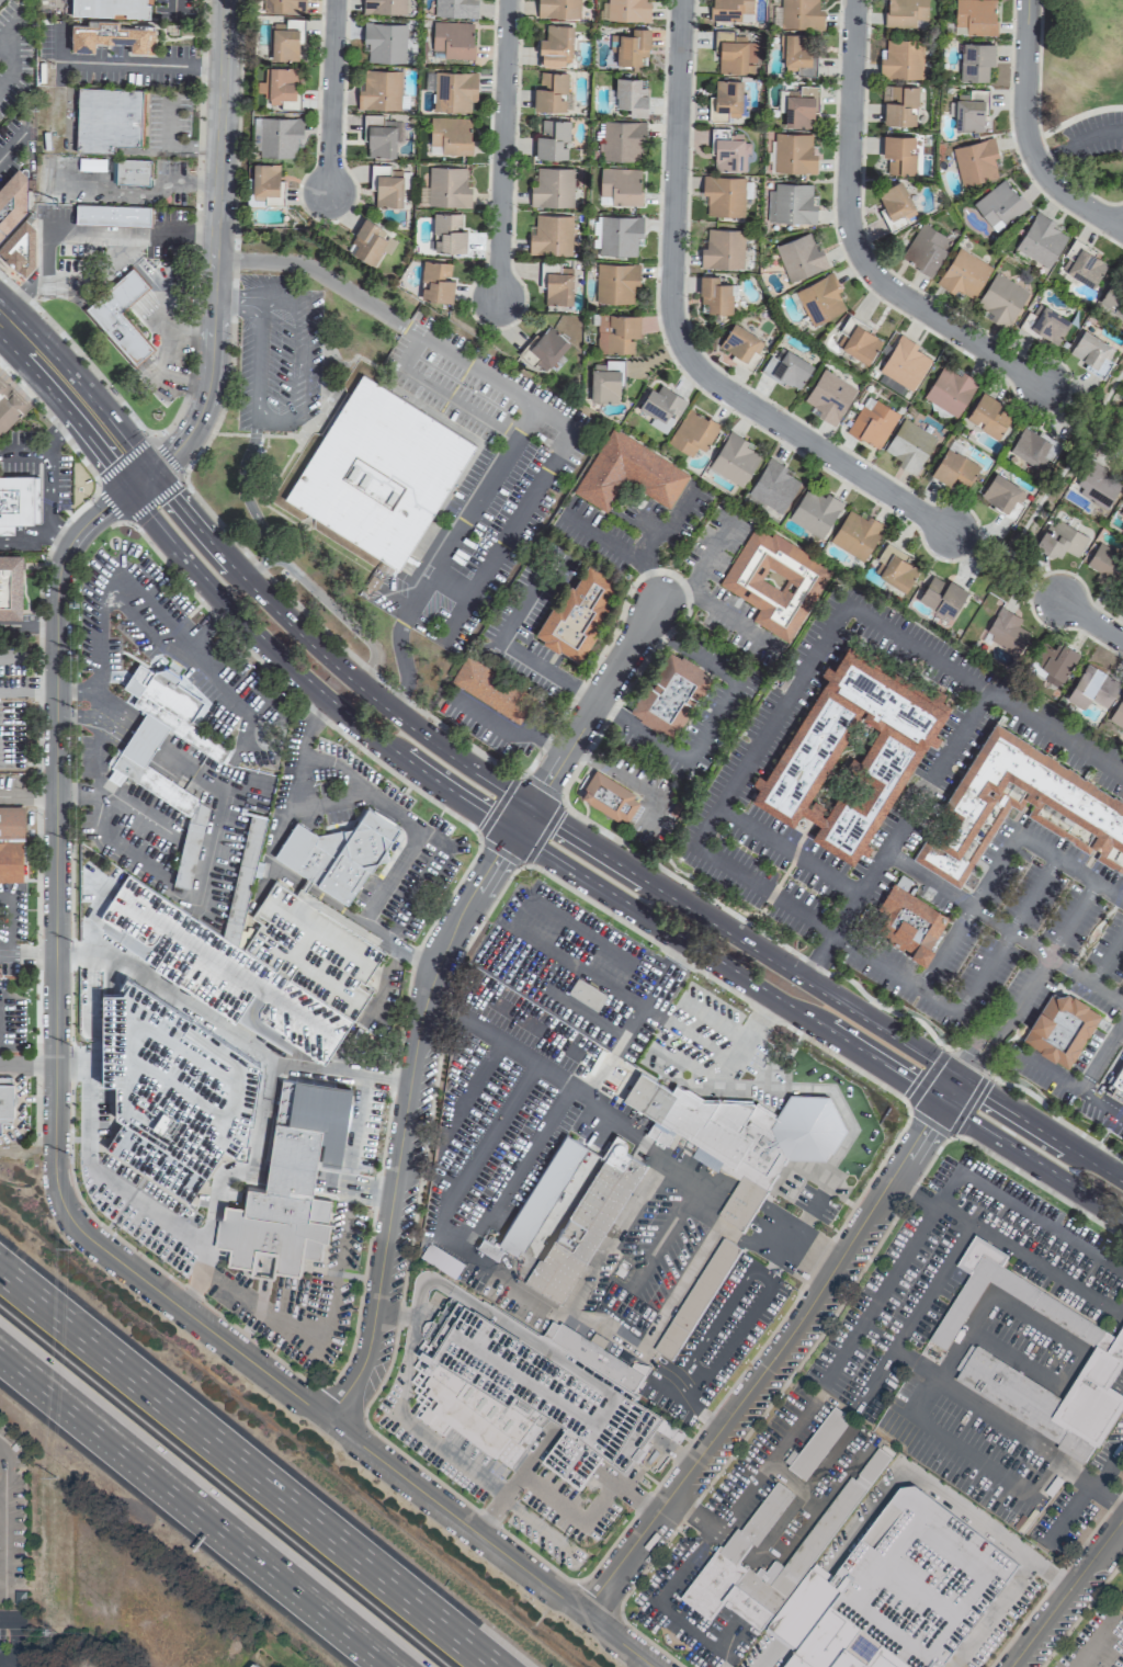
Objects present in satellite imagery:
building: (282, 5)
building: (384, 7)
building: (107, 8)
building: (454, 9)
building: (558, 9)
building: (729, 9)
building: (627, 10)
building: (801, 13)
building: (906, 13)
building: (975, 16)
building: (112, 35)
building: (453, 39)
building: (286, 41)
building: (385, 43)
building: (555, 45)
building: (631, 47)
building: (734, 54)
building: (797, 54)
park: (1079, 56)
building: (901, 59)
building: (975, 60)
road: (9, 61)
road: (112, 64)
road: (209, 67)
building: (279, 87)
building: (379, 89)
building: (454, 91)
building: (549, 91)
road: (328, 95)
building: (631, 95)
building: (726, 100)
building: (899, 104)
building: (799, 106)
building: (971, 111)
building: (110, 118)
road: (1026, 135)
building: (279, 136)
building: (378, 136)
building: (449, 136)
building: (552, 139)
building: (622, 139)
road: (1078, 140)
road: (10, 146)
road: (170, 146)
building: (727, 149)
road: (500, 150)
building: (793, 154)
building: (898, 154)
building: (975, 160)
building: (132, 172)
building: (264, 183)
building: (386, 185)
building: (552, 186)
building: (619, 186)
building: (445, 188)
building: (723, 195)
building: (14, 196)
building: (791, 203)
building: (895, 204)
building: (999, 204)
building: (113, 214)
road: (84, 231)
building: (447, 233)
building: (553, 235)
building: (620, 235)
road: (857, 238)
building: (1040, 240)
building: (367, 242)
building: (20, 246)
building: (722, 249)
building: (923, 249)
building: (799, 257)
road: (213, 260)
building: (1082, 264)
road: (316, 271)
building: (963, 274)
building: (435, 281)
building: (615, 282)
building: (556, 283)
building: (714, 295)
building: (819, 298)
building: (1000, 299)
road: (237, 302)
building: (120, 316)
building: (1044, 324)
building: (616, 332)
road: (681, 338)
building: (858, 340)
building: (741, 344)
building: (546, 347)
building: (1092, 352)
road: (410, 353)
road: (77, 355)
building: (904, 362)
building: (787, 368)
building: (606, 382)
road: (76, 383)
building: (949, 389)
building: (829, 396)
road: (1082, 406)
building: (10, 407)
building: (660, 407)
road: (67, 408)
road: (292, 415)
building: (987, 415)
road: (475, 419)
road: (54, 421)
building: (872, 422)
building: (692, 432)
building: (909, 445)
building: (1033, 446)
road: (23, 450)
road: (558, 453)
road: (166, 456)
building: (734, 458)
road: (125, 460)
road: (1062, 467)
building: (954, 468)
traffic signals: (147, 470)
building: (627, 472)
road: (47, 480)
building: (1096, 485)
building: (773, 486)
traffic signals: (126, 487)
park: (1047, 489)
building: (1002, 495)
road: (152, 499)
building: (16, 501)
road: (109, 504)
road: (249, 504)
building: (814, 511)
building: (1121, 514)
road: (649, 526)
building: (855, 533)
road: (23, 537)
building: (1060, 540)
road: (643, 551)
road: (445, 554)
building: (1104, 563)
building: (894, 567)
road: (1007, 570)
road: (649, 576)
building: (774, 581)
building: (10, 585)
road: (452, 585)
road: (699, 592)
road: (680, 593)
building: (941, 596)
road: (260, 597)
building: (578, 611)
road: (237, 615)
road: (412, 619)
road: (136, 620)
road: (1093, 622)
road: (27, 626)
road: (203, 631)
building: (1010, 636)
road: (98, 638)
road: (338, 643)
road: (508, 647)
building: (1055, 661)
road: (616, 668)
building: (490, 689)
building: (1081, 689)
road: (291, 690)
road: (79, 692)
road: (984, 692)
building: (670, 693)
road: (113, 716)
road: (80, 718)
road: (711, 722)
road: (769, 725)
road: (508, 726)
road: (308, 728)
road: (143, 737)
building: (849, 753)
road: (456, 759)
road: (231, 764)
road: (191, 768)
building: (136, 772)
road: (548, 773)
road: (629, 779)
road: (436, 781)
road: (542, 787)
road: (78, 795)
road: (376, 795)
road: (11, 796)
road: (38, 796)
building: (608, 796)
building: (144, 797)
road: (328, 805)
road: (497, 806)
building: (1076, 806)
traffic signals: (528, 807)
road: (136, 810)
building: (1122, 814)
road: (520, 819)
road: (277, 829)
traffic signals: (512, 831)
road: (896, 838)
building: (10, 842)
building: (337, 851)
road: (500, 851)
road: (787, 852)
road: (159, 854)
building: (145, 867)
road: (1069, 867)
road: (393, 877)
road: (174, 891)
road: (968, 912)
road: (350, 916)
road: (342, 920)
building: (909, 923)
road: (514, 926)
road: (1003, 928)
road: (756, 930)
road: (827, 930)
road: (319, 932)
road: (1005, 935)
road: (124, 940)
road: (597, 941)
road: (5, 946)
road: (1046, 955)
road: (290, 960)
road: (676, 963)
road: (228, 965)
building: (307, 966)
road: (581, 967)
road: (311, 971)
road: (387, 980)
road: (716, 983)
road: (565, 995)
road: (825, 995)
road: (647, 1010)
road: (717, 1020)
road: (673, 1023)
road: (817, 1024)
road: (227, 1025)
building: (1059, 1028)
road: (266, 1032)
road: (703, 1042)
road: (746, 1042)
road: (972, 1047)
road: (1101, 1054)
road: (519, 1055)
road: (983, 1056)
road: (968, 1059)
building: (1122, 1065)
road: (26, 1066)
road: (70, 1067)
road: (1046, 1071)
road: (926, 1078)
traffic signals: (958, 1080)
road: (738, 1086)
building: (170, 1088)
road: (950, 1091)
building: (4, 1101)
traffic signals: (942, 1102)
road: (967, 1104)
road: (1101, 1104)
road: (841, 1110)
road: (1053, 1118)
road: (405, 1120)
road: (928, 1122)
building: (744, 1127)
road: (455, 1138)
road: (917, 1138)
road: (837, 1154)
road: (495, 1157)
road: (542, 1158)
road: (248, 1173)
road: (818, 1175)
road: (799, 1181)
building: (290, 1184)
road: (1036, 1184)
road: (725, 1187)
road: (355, 1188)
road: (916, 1190)
building: (541, 1195)
road: (561, 1201)
road: (107, 1203)
building: (744, 1204)
road: (63, 1207)
road: (735, 1210)
road: (1023, 1210)
road: (812, 1212)
road: (343, 1213)
building: (586, 1223)
road: (728, 1229)
road: (522, 1233)
road: (612, 1236)
road: (804, 1249)
road: (650, 1252)
road: (1031, 1262)
road: (956, 1275)
road: (195, 1288)
road: (882, 1293)
building: (696, 1300)
road: (551, 1311)
road: (918, 1317)
road: (254, 1318)
road: (1042, 1328)
road: (524, 1335)
road: (412, 1342)
building: (1108, 1353)
road: (1014, 1357)
road: (682, 1373)
road: (1121, 1377)
road: (523, 1381)
building: (531, 1393)
road: (692, 1393)
road: (741, 1397)
road: (690, 1402)
road: (601, 1407)
road: (919, 1420)
road: (245, 1471)
road: (789, 1478)
road: (517, 1481)
road: (1084, 1481)
road: (487, 1487)
road: (1, 1492)
road: (628, 1492)
road: (1088, 1496)
road: (804, 1500)
road: (950, 1502)
road: (200, 1505)
road: (693, 1513)
road: (575, 1515)
building: (758, 1522)
road: (3, 1524)
road: (1120, 1532)
road: (711, 1536)
road: (1069, 1595)
building: (1120, 1604)
road: (991, 1614)
road: (1118, 1619)
building: (824, 1629)
road: (15, 1638)
road: (1094, 1641)
road: (725, 1644)
building: (943, 1654)
road: (8, 1662)
road: (723, 1662)
building: (257, 1665)
building: (251, 1666)

